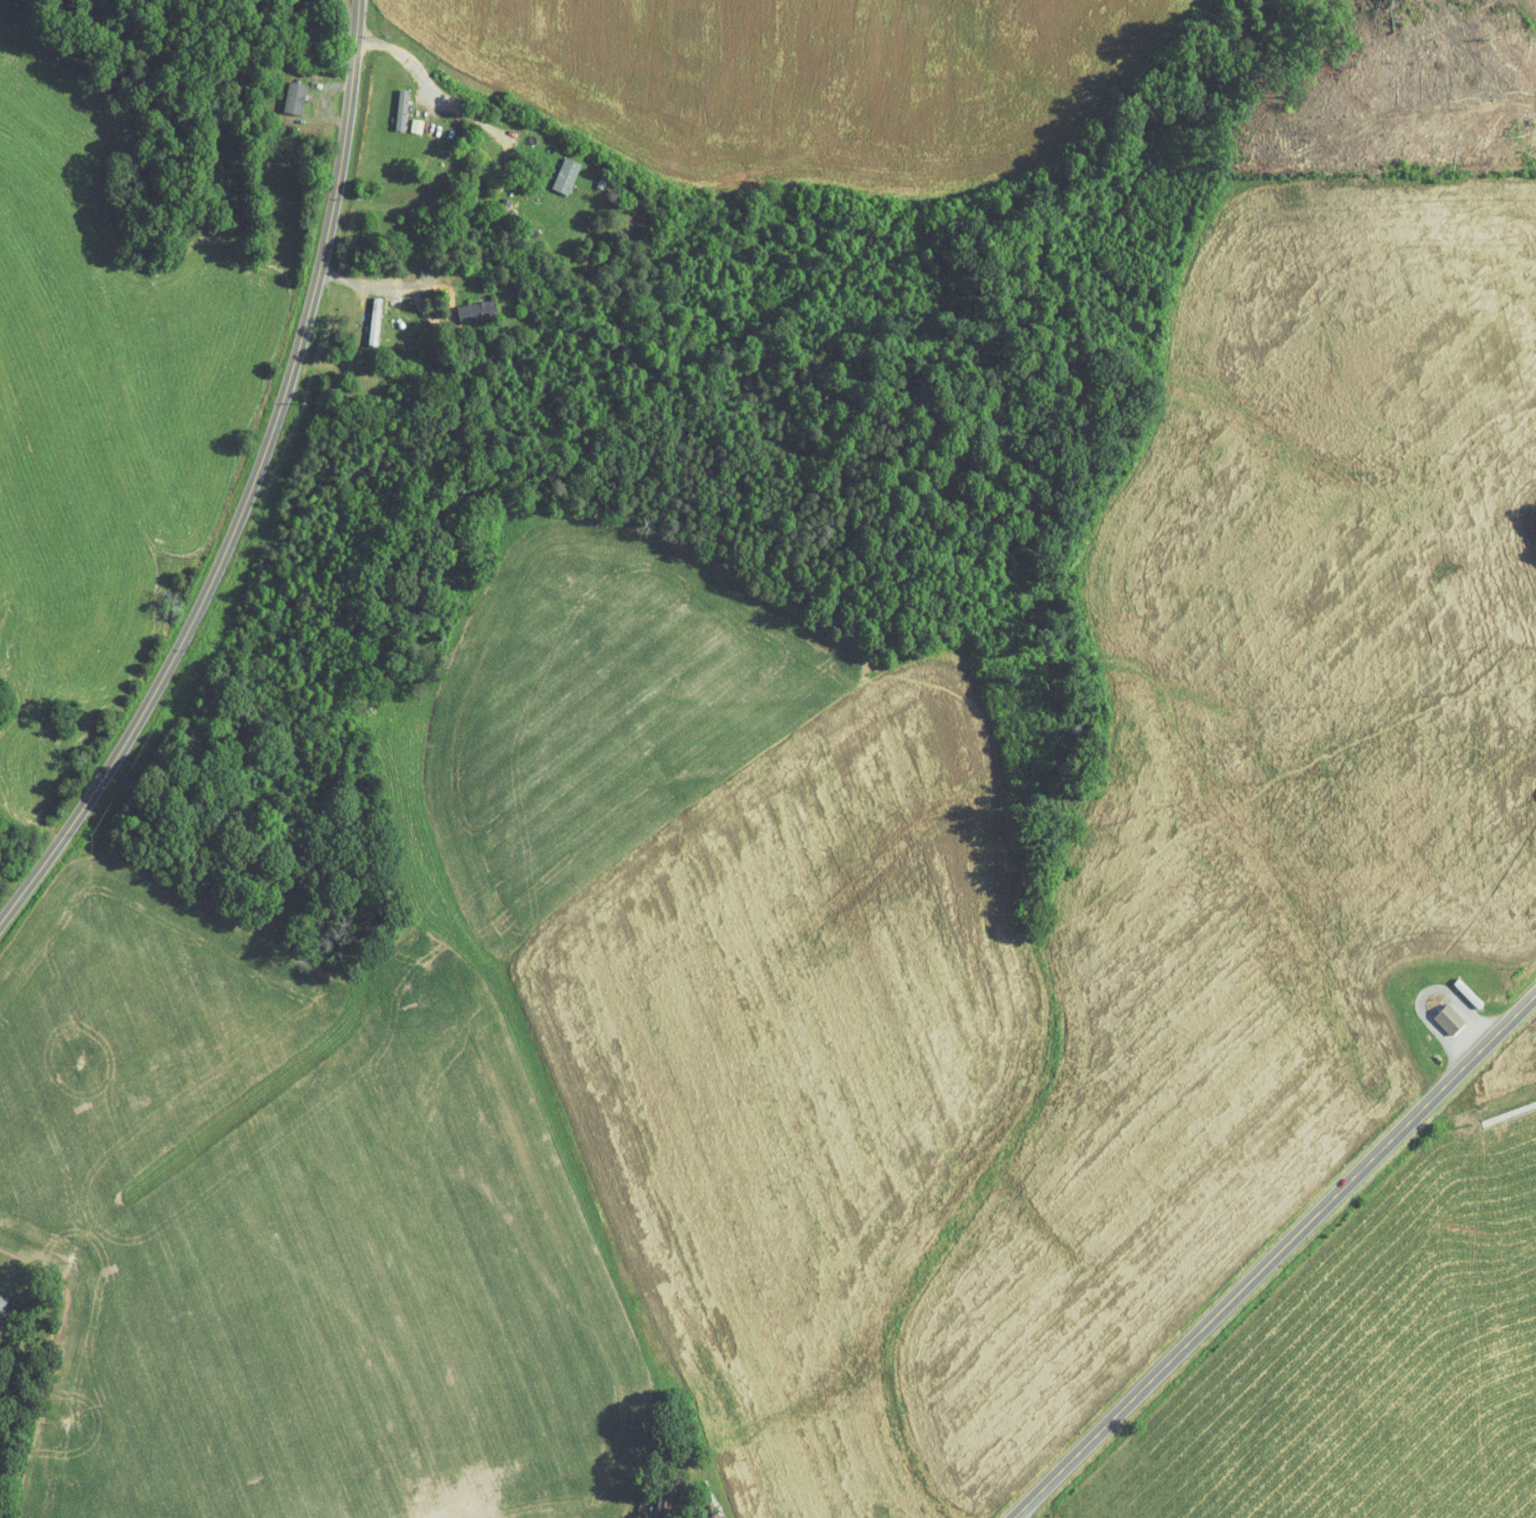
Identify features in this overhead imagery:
road: (328, 25)
road: (384, 60)
building: (291, 96)
building: (398, 109)
road: (455, 116)
road: (330, 123)
building: (414, 125)
building: (562, 175)
road: (366, 260)
road: (475, 273)
building: (474, 310)
road: (251, 489)
building: (1445, 1018)
road: (1459, 1032)
road: (1275, 1255)
building: (3, 1306)

